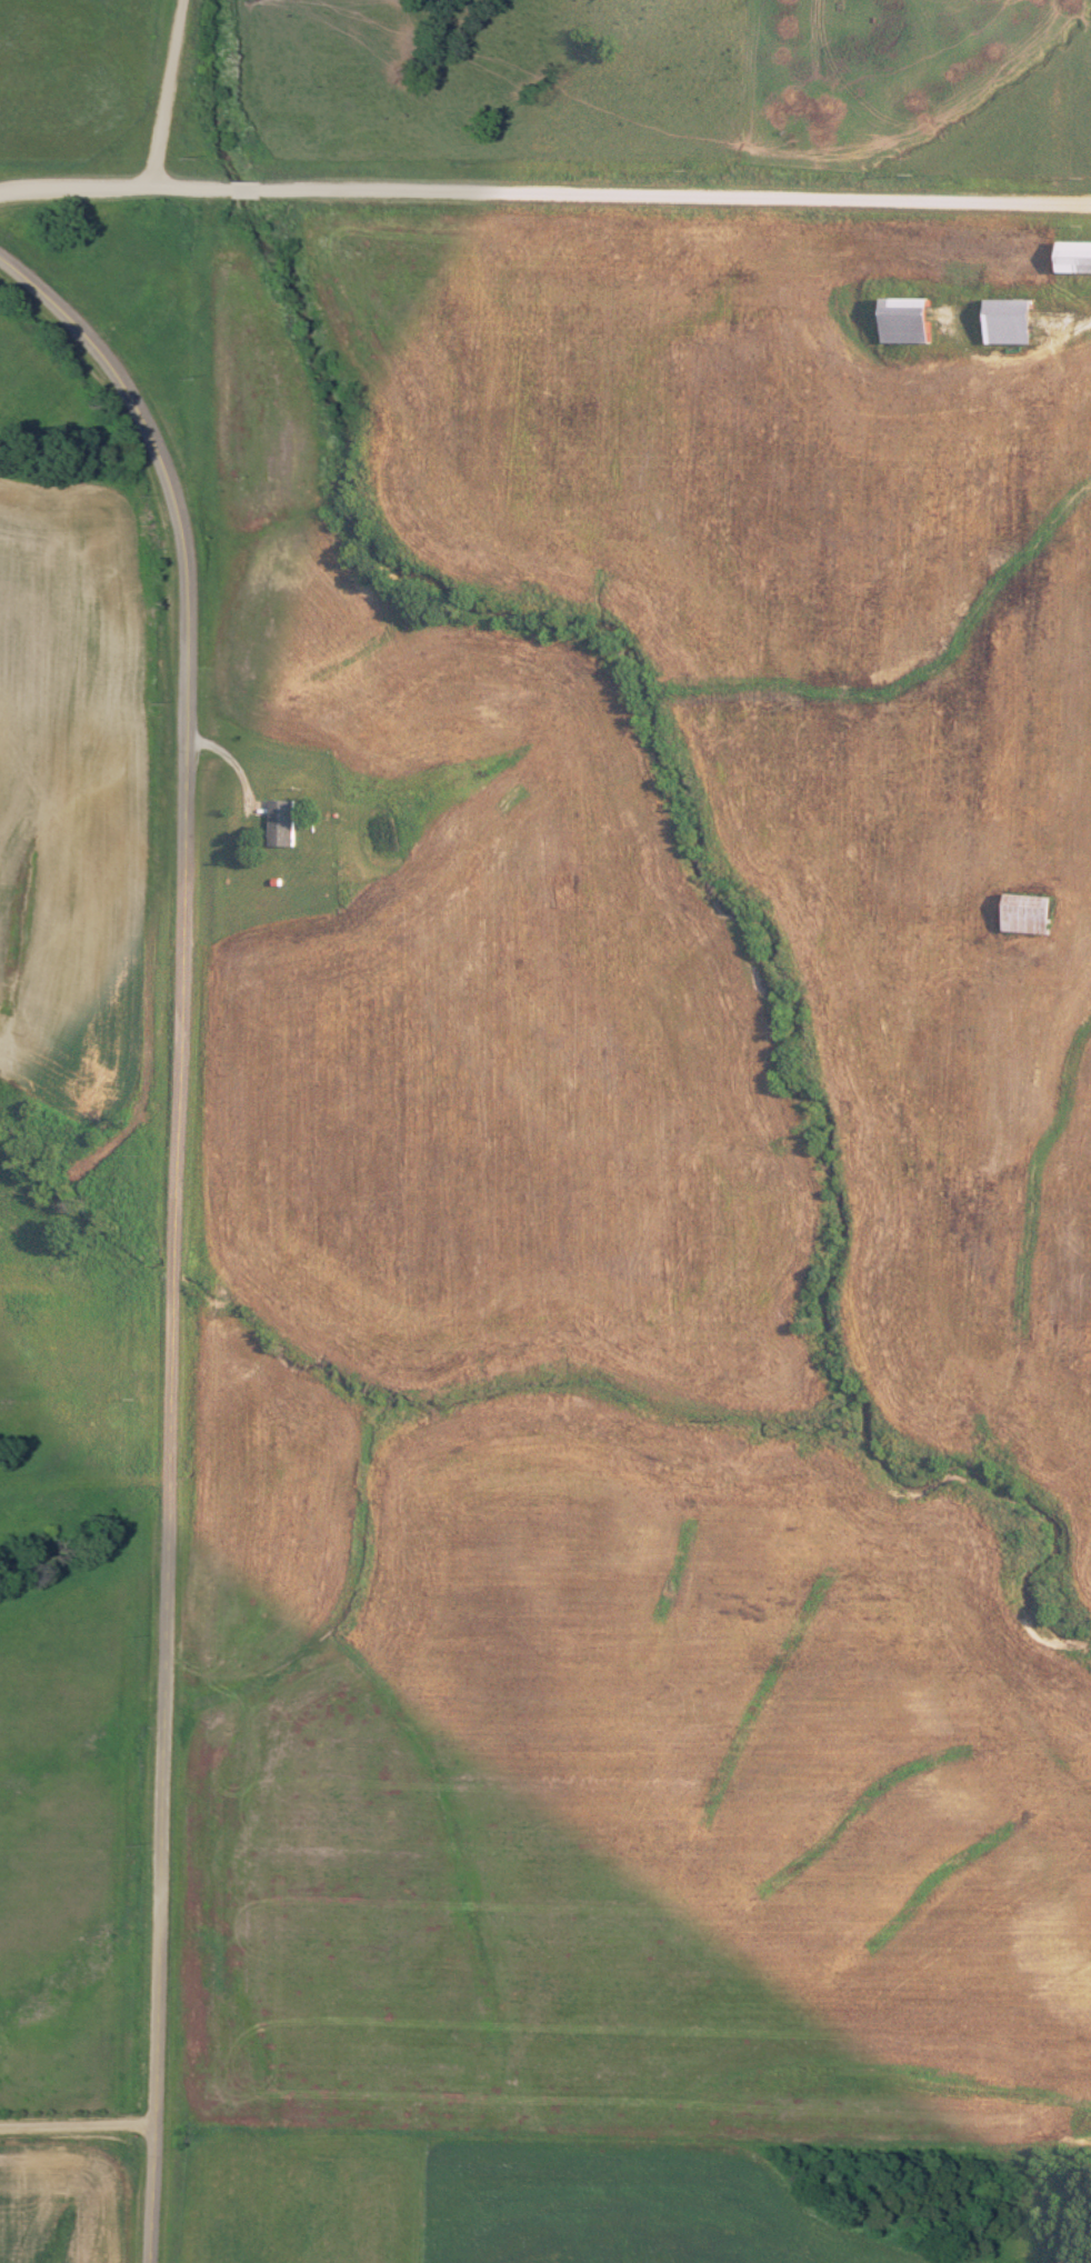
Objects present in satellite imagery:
road: (166, 96)
road: (1030, 102)
road: (544, 197)
building: (1075, 257)
building: (905, 321)
building: (1009, 322)
building: (283, 823)
building: (1029, 915)
road: (173, 1230)
road: (76, 2119)

